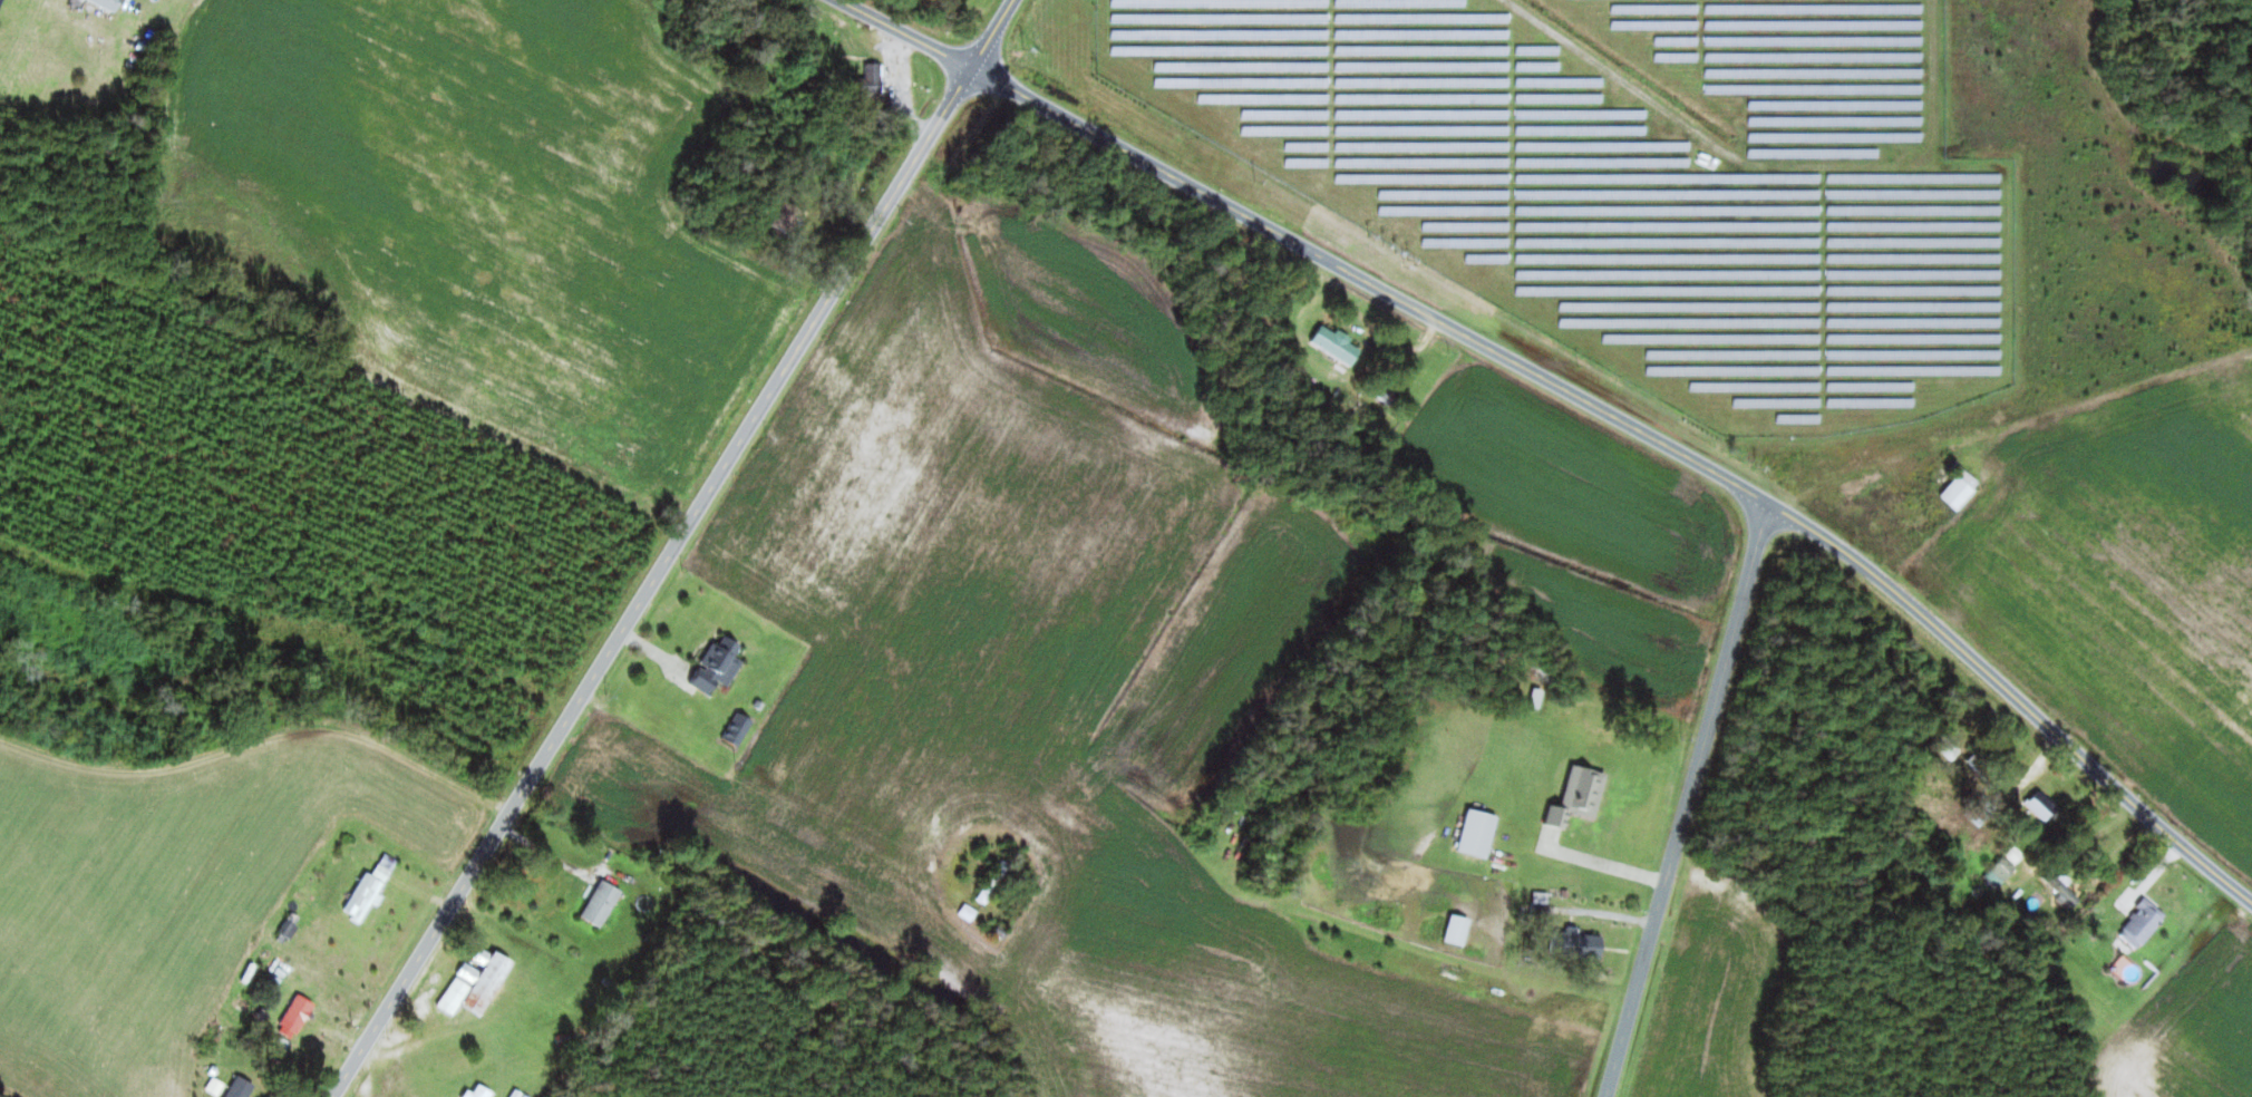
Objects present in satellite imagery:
building: (0, 2)
building: (109, 3)
building: (873, 78)
solar farm: (1635, 179)
building: (788, 216)
road: (1308, 247)
building: (1338, 346)
building: (1963, 488)
road: (672, 548)
building: (719, 664)
road: (2015, 688)
building: (739, 728)
building: (1579, 792)
road: (1687, 800)
building: (2044, 804)
building: (1979, 812)
building: (1479, 832)
building: (2002, 871)
building: (2065, 887)
building: (603, 902)
building: (2145, 923)
building: (1460, 928)
building: (1581, 943)
building: (486, 981)
building: (299, 1013)
building: (479, 1090)

